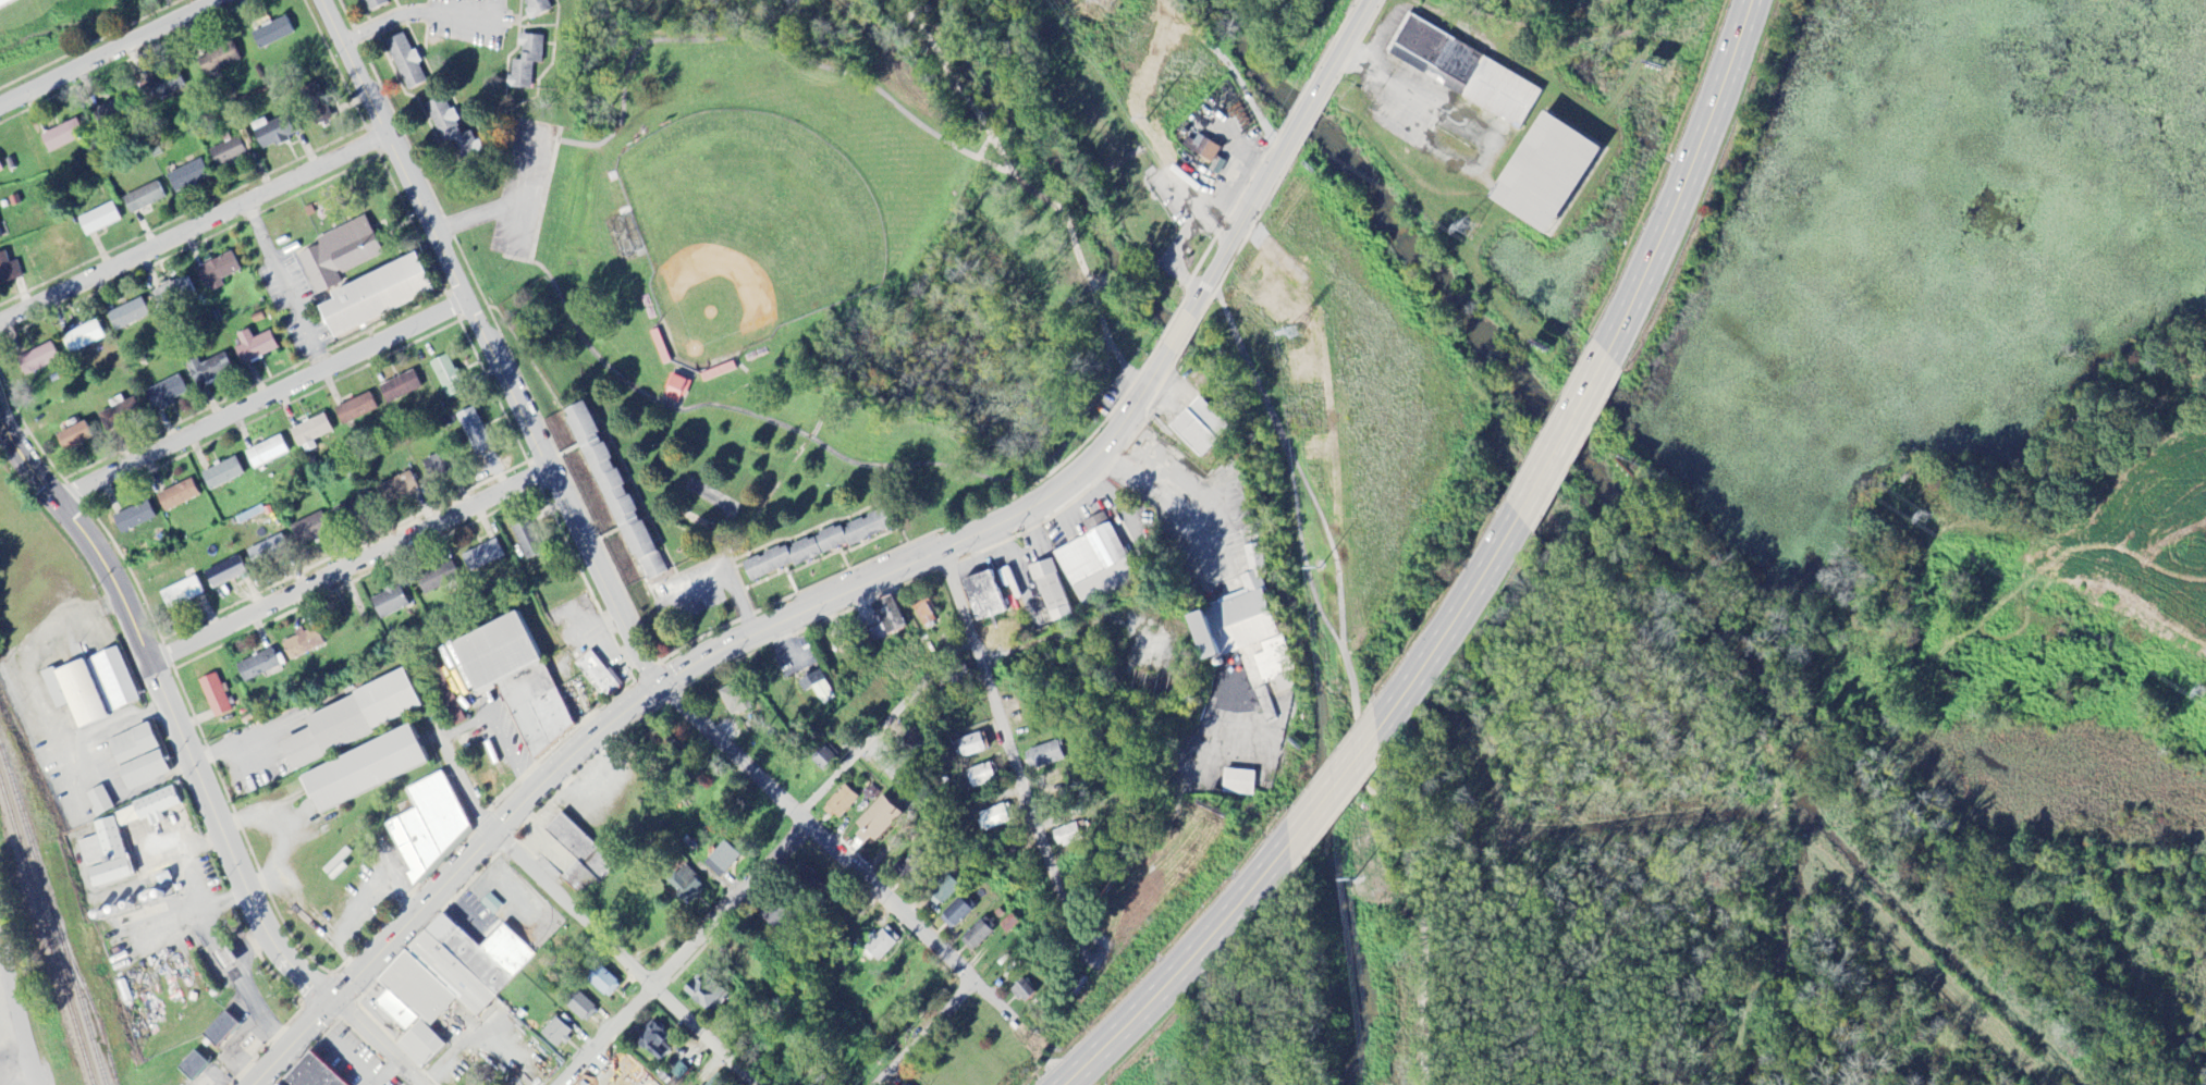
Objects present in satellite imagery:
power tower: (1106, 1)
building: (5, 2)
building: (373, 4)
building: (536, 8)
road: (413, 13)
park: (58, 29)
building: (270, 34)
road: (106, 51)
building: (217, 60)
building: (405, 62)
building: (525, 62)
building: (1466, 73)
road: (538, 78)
building: (161, 88)
building: (314, 103)
building: (108, 113)
building: (451, 130)
building: (271, 133)
building: (61, 136)
building: (225, 153)
building: (1221, 158)
road: (1282, 158)
building: (1542, 174)
building: (186, 176)
road: (1688, 181)
parking lot: (522, 187)
road: (524, 189)
building: (142, 199)
road: (1046, 200)
road: (475, 218)
building: (97, 220)
power tower: (1463, 227)
road: (192, 229)
park: (746, 231)
park: (823, 237)
building: (338, 255)
building: (8, 271)
building: (217, 272)
road: (548, 273)
road: (286, 285)
building: (173, 293)
building: (373, 296)
building: (128, 316)
road: (1169, 323)
road: (1180, 333)
building: (83, 337)
road: (486, 344)
building: (254, 347)
building: (36, 360)
building: (208, 370)
building: (446, 377)
building: (399, 389)
building: (675, 390)
parking lot: (1112, 392)
building: (163, 394)
road: (261, 402)
building: (355, 410)
building: (120, 414)
building: (1198, 427)
building: (309, 431)
building: (473, 432)
road: (1564, 435)
building: (72, 439)
building: (265, 453)
building: (220, 474)
building: (396, 489)
building: (614, 494)
building: (176, 496)
building: (132, 519)
power tower: (1924, 519)
building: (307, 530)
building: (813, 546)
road: (1301, 548)
building: (266, 552)
building: (481, 556)
building: (1090, 562)
road: (348, 567)
building: (223, 572)
building: (437, 579)
building: (1050, 591)
building: (181, 593)
building: (982, 596)
building: (389, 603)
building: (924, 613)
building: (886, 618)
building: (1230, 622)
road: (1454, 627)
building: (302, 643)
road: (1343, 652)
building: (1275, 665)
park: (1347, 665)
building: (256, 666)
road: (682, 670)
building: (596, 676)
building: (517, 679)
building: (111, 680)
building: (817, 688)
building: (73, 693)
power tower: (2198, 693)
building: (213, 695)
building: (734, 700)
building: (1264, 706)
building: (351, 719)
road: (499, 732)
road: (243, 740)
building: (912, 742)
building: (131, 744)
building: (972, 745)
road: (1008, 751)
building: (1043, 756)
building: (823, 757)
road: (194, 768)
road: (101, 769)
building: (361, 769)
building: (143, 770)
building: (980, 776)
building: (1237, 784)
road: (1333, 791)
building: (98, 801)
building: (839, 803)
building: (147, 810)
building: (994, 817)
building: (878, 818)
building: (429, 825)
building: (1065, 836)
building: (103, 854)
building: (581, 855)
road: (764, 859)
building: (721, 860)
road: (844, 861)
building: (684, 886)
building: (941, 891)
road: (556, 899)
building: (490, 904)
building: (957, 911)
railway: (53, 912)
building: (1008, 924)
road: (1755, 927)
railway: (46, 934)
building: (977, 935)
building: (880, 945)
building: (221, 959)
road: (1178, 969)
building: (445, 982)
building: (602, 983)
building: (1022, 991)
building: (702, 995)
building: (579, 1007)
railway: (94, 1016)
road: (19, 1024)
building: (220, 1031)
road: (926, 1033)
building: (555, 1034)
building: (652, 1043)
building: (193, 1065)
building: (677, 1072)
building: (312, 1074)
road: (26, 1078)

